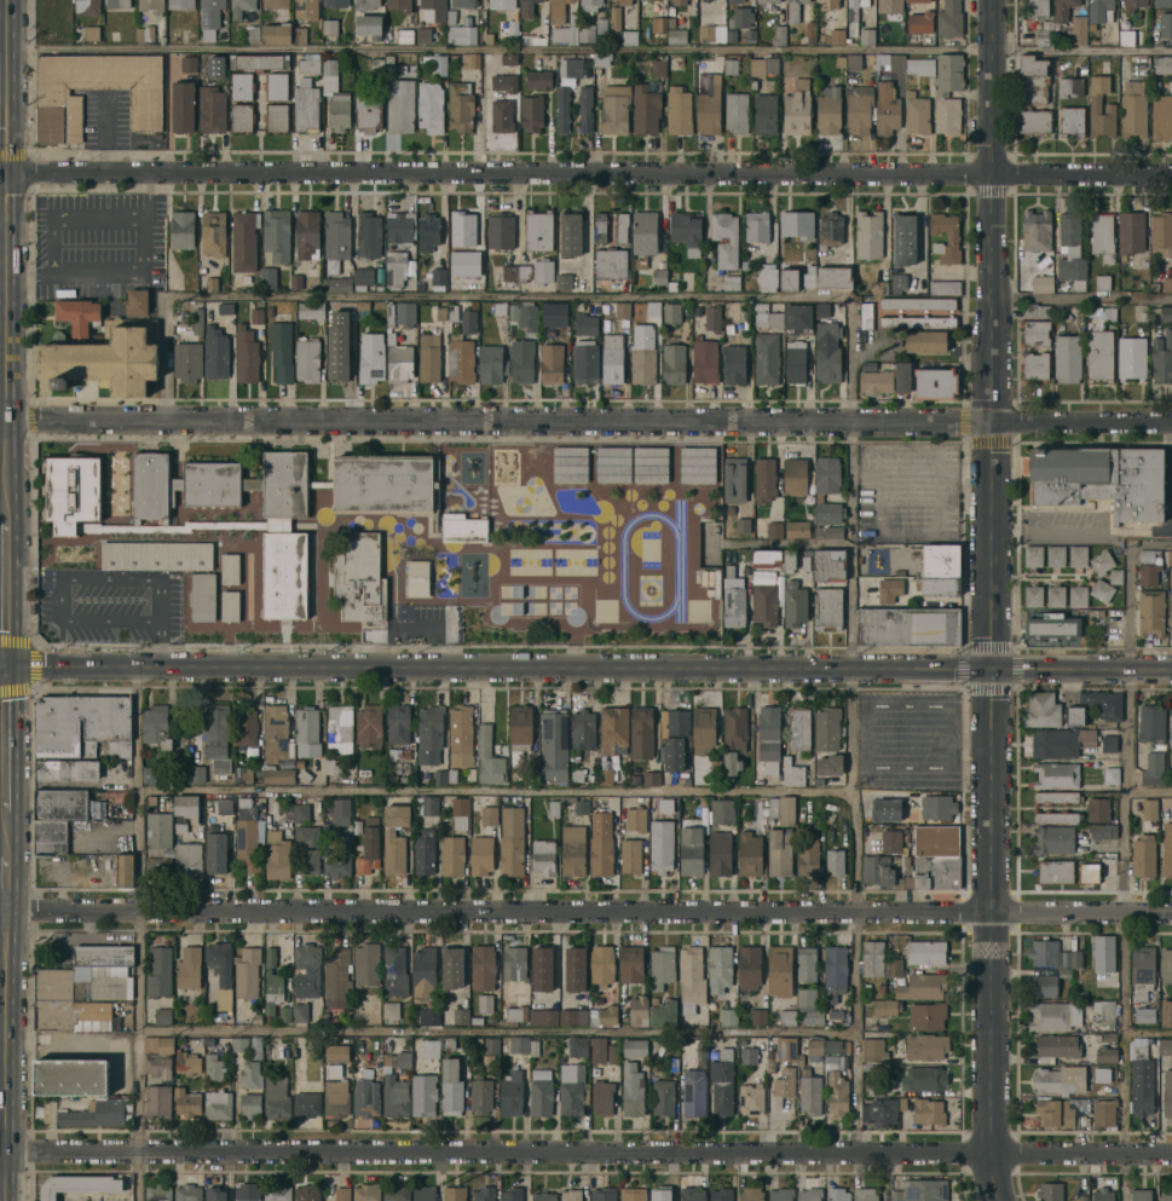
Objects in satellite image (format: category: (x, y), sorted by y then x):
building: (659, 0)
building: (735, 0)
building: (767, 0)
building: (916, 0)
building: (463, 1)
building: (679, 1)
building: (1162, 1)
building: (117, 2)
building: (180, 2)
building: (276, 2)
building: (336, 2)
building: (366, 2)
building: (625, 2)
building: (150, 4)
building: (502, 4)
building: (832, 4)
building: (1132, 4)
building: (86, 5)
building: (399, 5)
building: (239, 6)
building: (889, 6)
building: (1037, 6)
building: (589, 7)
building: (306, 8)
building: (526, 8)
building: (1062, 8)
building: (433, 10)
building: (793, 10)
building: (1099, 10)
building: (558, 11)
building: (853, 15)
building: (740, 16)
building: (209, 17)
building: (948, 17)
building: (919, 19)
building: (614, 21)
building: (670, 21)
building: (1166, 22)
building: (658, 23)
building: (331, 25)
building: (369, 25)
building: (601, 25)
building: (1078, 27)
building: (91, 30)
building: (144, 30)
building: (250, 30)
building: (275, 30)
building: (462, 30)
building: (508, 30)
building: (705, 30)
building: (114, 31)
building: (566, 31)
building: (1045, 31)
building: (298, 33)
building: (587, 33)
building: (749, 33)
building: (779, 33)
building: (810, 33)
building: (405, 34)
building: (423, 34)
building: (676, 34)
building: (732, 34)
building: (836, 34)
building: (1128, 34)
building: (866, 35)
building: (161, 37)
building: (629, 37)
building: (912, 37)
building: (538, 40)
road: (589, 47)
building: (509, 57)
building: (600, 58)
building: (679, 58)
building: (202, 59)
building: (259, 59)
building: (469, 59)
building: (853, 59)
building: (841, 60)
building: (308, 62)
building: (389, 62)
building: (438, 62)
building: (374, 63)
building: (1161, 63)
building: (187, 64)
building: (329, 64)
building: (729, 64)
building: (920, 64)
building: (658, 65)
building: (763, 65)
building: (575, 67)
building: (849, 73)
building: (538, 77)
building: (1032, 77)
building: (504, 80)
building: (241, 83)
building: (275, 83)
building: (1069, 83)
building: (1170, 85)
building: (887, 92)
building: (941, 92)
building: (399, 103)
building: (180, 104)
building: (460, 104)
building: (429, 105)
building: (1109, 105)
building: (305, 106)
building: (562, 106)
building: (584, 106)
building: (613, 106)
building: (643, 106)
building: (796, 106)
building: (210, 108)
building: (709, 108)
building: (827, 108)
building: (1133, 108)
building: (337, 109)
building: (677, 109)
building: (58, 110)
building: (368, 110)
building: (531, 110)
building: (735, 110)
building: (858, 110)
building: (763, 111)
building: (917, 111)
building: (501, 114)
building: (241, 115)
building: (275, 115)
building: (1161, 115)
building: (1033, 119)
building: (1070, 119)
road: (103, 135)
road: (585, 174)
road: (149, 198)
road: (71, 221)
building: (796, 221)
building: (620, 224)
building: (756, 224)
building: (599, 225)
building: (398, 226)
building: (462, 226)
building: (181, 227)
building: (498, 227)
building: (538, 227)
building: (1035, 227)
building: (685, 229)
building: (829, 229)
building: (427, 230)
building: (643, 230)
building: (213, 231)
building: (306, 231)
building: (1130, 231)
building: (1161, 231)
building: (276, 232)
building: (867, 232)
building: (368, 233)
building: (570, 233)
building: (1102, 233)
building: (952, 236)
building: (335, 237)
building: (243, 238)
building: (732, 238)
building: (903, 238)
building: (1069, 244)
road: (5, 260)
building: (610, 262)
building: (394, 267)
building: (466, 269)
building: (542, 269)
building: (510, 270)
building: (524, 270)
road: (98, 271)
building: (266, 275)
building: (363, 275)
building: (659, 275)
building: (808, 275)
building: (833, 275)
building: (437, 276)
building: (767, 277)
building: (787, 277)
building: (295, 279)
building: (1102, 279)
building: (731, 281)
building: (210, 282)
building: (336, 282)
building: (564, 282)
building: (897, 282)
building: (1041, 282)
building: (1166, 282)
building: (671, 283)
building: (1154, 284)
building: (879, 285)
building: (943, 285)
road: (559, 293)
building: (135, 299)
road: (1081, 299)
building: (916, 301)
building: (363, 304)
building: (225, 306)
building: (604, 306)
building: (686, 306)
building: (767, 306)
building: (310, 307)
building: (498, 307)
building: (652, 307)
building: (269, 308)
building: (348, 308)
building: (564, 308)
building: (622, 308)
building: (1034, 308)
building: (513, 310)
building: (822, 310)
building: (440, 311)
building: (452, 311)
building: (670, 311)
building: (1166, 311)
building: (77, 312)
building: (405, 312)
building: (940, 312)
building: (1109, 312)
building: (255, 313)
building: (389, 313)
building: (527, 313)
building: (712, 313)
building: (864, 313)
building: (1142, 313)
building: (197, 316)
building: (797, 316)
building: (767, 317)
building: (467, 318)
building: (917, 319)
building: (584, 322)
building: (728, 322)
building: (1034, 330)
road: (992, 333)
building: (923, 340)
building: (281, 348)
building: (826, 350)
building: (214, 351)
building: (244, 353)
building: (1099, 353)
building: (105, 356)
building: (336, 356)
building: (370, 356)
building: (428, 356)
building: (1066, 356)
building: (1131, 356)
building: (1161, 356)
building: (611, 357)
building: (766, 357)
building: (307, 358)
building: (521, 358)
building: (584, 358)
building: (704, 358)
building: (186, 359)
building: (461, 359)
building: (642, 359)
building: (795, 359)
building: (550, 360)
building: (733, 360)
building: (398, 362)
building: (490, 362)
building: (672, 362)
building: (868, 363)
building: (1034, 364)
building: (901, 376)
building: (876, 380)
building: (935, 381)
road: (587, 418)
building: (568, 462)
building: (612, 462)
building: (649, 462)
building: (697, 462)
building: (538, 467)
road: (1171, 473)
building: (795, 474)
building: (763, 477)
building: (1101, 477)
building: (734, 478)
building: (210, 481)
building: (250, 481)
building: (319, 481)
building: (385, 481)
building: (152, 484)
building: (283, 485)
building: (71, 490)
building: (819, 496)
building: (729, 507)
building: (171, 524)
building: (741, 525)
building: (462, 526)
building: (796, 526)
building: (773, 527)
road: (1081, 527)
building: (70, 552)
building: (155, 553)
building: (1148, 553)
building: (1032, 554)
building: (1055, 554)
building: (1076, 554)
building: (1170, 555)
building: (764, 556)
building: (789, 558)
building: (940, 559)
building: (1101, 560)
building: (829, 564)
building: (229, 566)
building: (728, 568)
building: (899, 570)
building: (1147, 572)
building: (284, 573)
building: (1115, 573)
building: (358, 574)
building: (417, 576)
building: (1170, 576)
building: (939, 584)
building: (889, 588)
building: (1101, 588)
building: (1033, 594)
building: (1055, 594)
building: (1076, 594)
road: (7, 595)
building: (201, 595)
building: (733, 600)
building: (764, 601)
building: (793, 602)
building: (229, 604)
building: (827, 606)
building: (1150, 610)
building: (1098, 611)
road: (119, 617)
building: (1170, 617)
building: (907, 625)
building: (1051, 625)
traffic signals: (992, 666)
road: (1081, 666)
road: (500, 668)
road: (4, 670)
traffic signals: (8, 670)
building: (1103, 703)
building: (1040, 709)
building: (1074, 714)
building: (79, 721)
building: (369, 722)
building: (398, 722)
building: (1150, 722)
building: (156, 723)
building: (244, 724)
building: (339, 727)
building: (582, 727)
building: (614, 727)
building: (703, 727)
building: (798, 727)
building: (1170, 727)
building: (215, 729)
building: (306, 729)
building: (276, 731)
building: (519, 731)
building: (642, 731)
building: (429, 732)
road: (864, 732)
road: (851, 734)
building: (460, 735)
building: (674, 735)
building: (733, 737)
road: (972, 737)
building: (768, 738)
road: (6, 739)
building: (826, 739)
building: (1060, 740)
building: (1108, 741)
building: (171, 744)
building: (553, 745)
building: (394, 752)
building: (406, 752)
building: (572, 755)
building: (489, 756)
building: (705, 758)
building: (299, 761)
building: (715, 763)
building: (220, 764)
building: (333, 764)
building: (389, 764)
building: (402, 766)
building: (67, 768)
building: (1153, 768)
building: (792, 770)
building: (192, 772)
building: (242, 773)
building: (304, 773)
building: (577, 773)
building: (606, 773)
building: (1055, 773)
building: (1110, 773)
building: (151, 774)
building: (278, 774)
building: (1170, 774)
building: (393, 775)
building: (438, 775)
building: (452, 775)
building: (649, 775)
building: (404, 776)
building: (636, 776)
building: (695, 778)
road: (60, 785)
road: (493, 790)
road: (137, 792)
building: (115, 793)
road: (1150, 793)
building: (597, 796)
building: (1055, 796)
building: (150, 798)
building: (567, 798)
building: (702, 798)
building: (237, 799)
building: (59, 803)
building: (664, 803)
building: (185, 804)
building: (224, 804)
building: (429, 804)
building: (581, 804)
building: (936, 804)
building: (285, 806)
building: (553, 806)
building: (1097, 807)
building: (1149, 807)
building: (763, 808)
building: (772, 808)
building: (785, 808)
building: (721, 809)
building: (885, 809)
building: (300, 810)
building: (458, 810)
building: (337, 814)
building: (489, 814)
building: (1055, 815)
building: (635, 818)
building: (762, 818)
building: (357, 825)
building: (157, 828)
building: (1102, 830)
road: (1127, 830)
road: (5, 832)
building: (305, 833)
building: (810, 835)
building: (50, 836)
building: (394, 836)
building: (246, 837)
building: (1052, 837)
building: (512, 839)
building: (890, 839)
building: (936, 839)
building: (692, 842)
building: (660, 843)
building: (368, 845)
building: (214, 848)
building: (572, 848)
building: (1167, 848)
building: (423, 849)
building: (779, 850)
building: (185, 851)
building: (720, 851)
building: (452, 853)
building: (480, 853)
building: (601, 853)
building: (750, 853)
building: (276, 854)
building: (543, 854)
building: (630, 854)
building: (1143, 854)
building: (808, 856)
building: (833, 858)
building: (307, 859)
building: (902, 861)
building: (156, 862)
building: (1105, 862)
building: (336, 865)
building: (123, 868)
building: (879, 870)
building: (1055, 870)
building: (936, 871)
building: (1089, 872)
building: (906, 879)
road: (4, 885)
road: (1, 914)
road: (587, 916)
road: (992, 934)
building: (926, 949)
building: (1043, 951)
building: (795, 952)
building: (1103, 952)
building: (103, 953)
building: (872, 957)
building: (1064, 957)
building: (1075, 957)
building: (365, 962)
building: (513, 962)
building: (806, 962)
building: (451, 963)
building: (601, 963)
building: (630, 963)
building: (1166, 963)
building: (660, 964)
building: (483, 965)
building: (747, 965)
building: (835, 965)
building: (187, 966)
building: (718, 966)
building: (893, 966)
building: (220, 968)
building: (306, 968)
building: (575, 968)
building: (394, 969)
building: (541, 969)
building: (779, 969)
building: (1142, 969)
building: (158, 970)
building: (246, 970)
building: (423, 971)
building: (335, 976)
building: (691, 977)
building: (271, 980)
building: (75, 983)
building: (1041, 983)
building: (866, 985)
building: (920, 985)
building: (879, 986)
building: (370, 1005)
building: (809, 1005)
building: (885, 1006)
building: (389, 1009)
building: (637, 1009)
building: (299, 1010)
building: (1107, 1010)
building: (68, 1011)
building: (1165, 1011)
building: (284, 1012)
building: (663, 1012)
building: (1143, 1012)
building: (162, 1014)
building: (429, 1014)
building: (602, 1014)
building: (926, 1014)
building: (1052, 1014)
building: (461, 1015)
building: (514, 1015)
building: (727, 1015)
building: (757, 1015)
building: (786, 1015)
building: (207, 1016)
building: (543, 1016)
building: (572, 1016)
building: (833, 1016)
building: (256, 1017)
building: (477, 1021)
road: (498, 1029)
road: (1148, 1033)
building: (1104, 1035)
building: (448, 1040)
building: (477, 1040)
building: (239, 1041)
building: (519, 1043)
building: (491, 1044)
building: (835, 1044)
building: (576, 1045)
building: (814, 1045)
building: (925, 1045)
building: (1056, 1045)
building: (255, 1046)
building: (431, 1046)
building: (533, 1046)
building: (634, 1046)
building: (1166, 1046)
building: (597, 1047)
building: (872, 1047)
building: (336, 1051)
building: (781, 1051)
building: (612, 1052)
building: (1105, 1052)
building: (404, 1055)
building: (747, 1055)
building: (160, 1057)
road: (4, 1058)
road: (138, 1058)
building: (799, 1058)
building: (186, 1061)
building: (672, 1061)
building: (213, 1064)
building: (870, 1067)
building: (331, 1070)
building: (249, 1073)
power substation: (71, 1075)
building: (70, 1076)
building: (924, 1076)
building: (1055, 1079)
building: (1141, 1079)
building: (721, 1080)
building: (783, 1082)
building: (450, 1085)
building: (572, 1087)
building: (631, 1089)
building: (874, 1089)
building: (541, 1091)
building: (693, 1091)
building: (809, 1091)
building: (836, 1091)
building: (423, 1092)
building: (480, 1092)
building: (512, 1092)
road: (858, 1092)
building: (1167, 1092)
building: (394, 1095)
building: (601, 1096)
building: (663, 1096)
building: (335, 1097)
building: (751, 1097)
building: (157, 1098)
building: (186, 1101)
building: (275, 1102)
building: (306, 1102)
building: (365, 1102)
building: (902, 1102)
building: (249, 1103)
building: (216, 1104)
building: (878, 1109)
building: (928, 1110)
building: (1053, 1110)
building: (94, 1111)
building: (1103, 1111)
road: (588, 1151)
road: (888, 1177)
road: (1121, 1177)
building: (77, 1183)
building: (918, 1189)
building: (157, 1191)
building: (186, 1191)
building: (246, 1191)
building: (276, 1191)
building: (366, 1191)
building: (1049, 1191)
building: (214, 1193)
building: (306, 1193)
building: (341, 1193)
building: (396, 1193)
building: (423, 1193)
building: (454, 1193)
building: (483, 1193)
building: (512, 1193)
building: (602, 1193)
building: (751, 1193)
building: (570, 1194)
building: (633, 1194)
building: (659, 1194)
building: (692, 1194)
building: (720, 1194)
building: (780, 1194)
building: (809, 1194)
building: (837, 1194)
building: (864, 1194)
building: (1102, 1194)
building: (1141, 1194)
building: (543, 1195)
building: (1166, 1195)
building: (1081, 1196)

